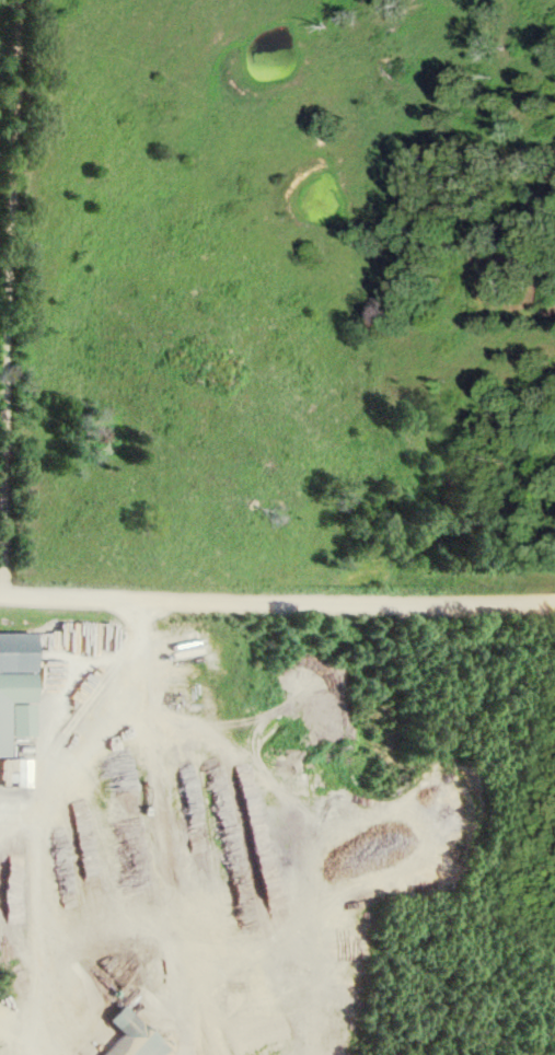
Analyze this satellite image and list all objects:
road: (277, 600)
building: (15, 686)
building: (20, 772)
building: (140, 1035)

